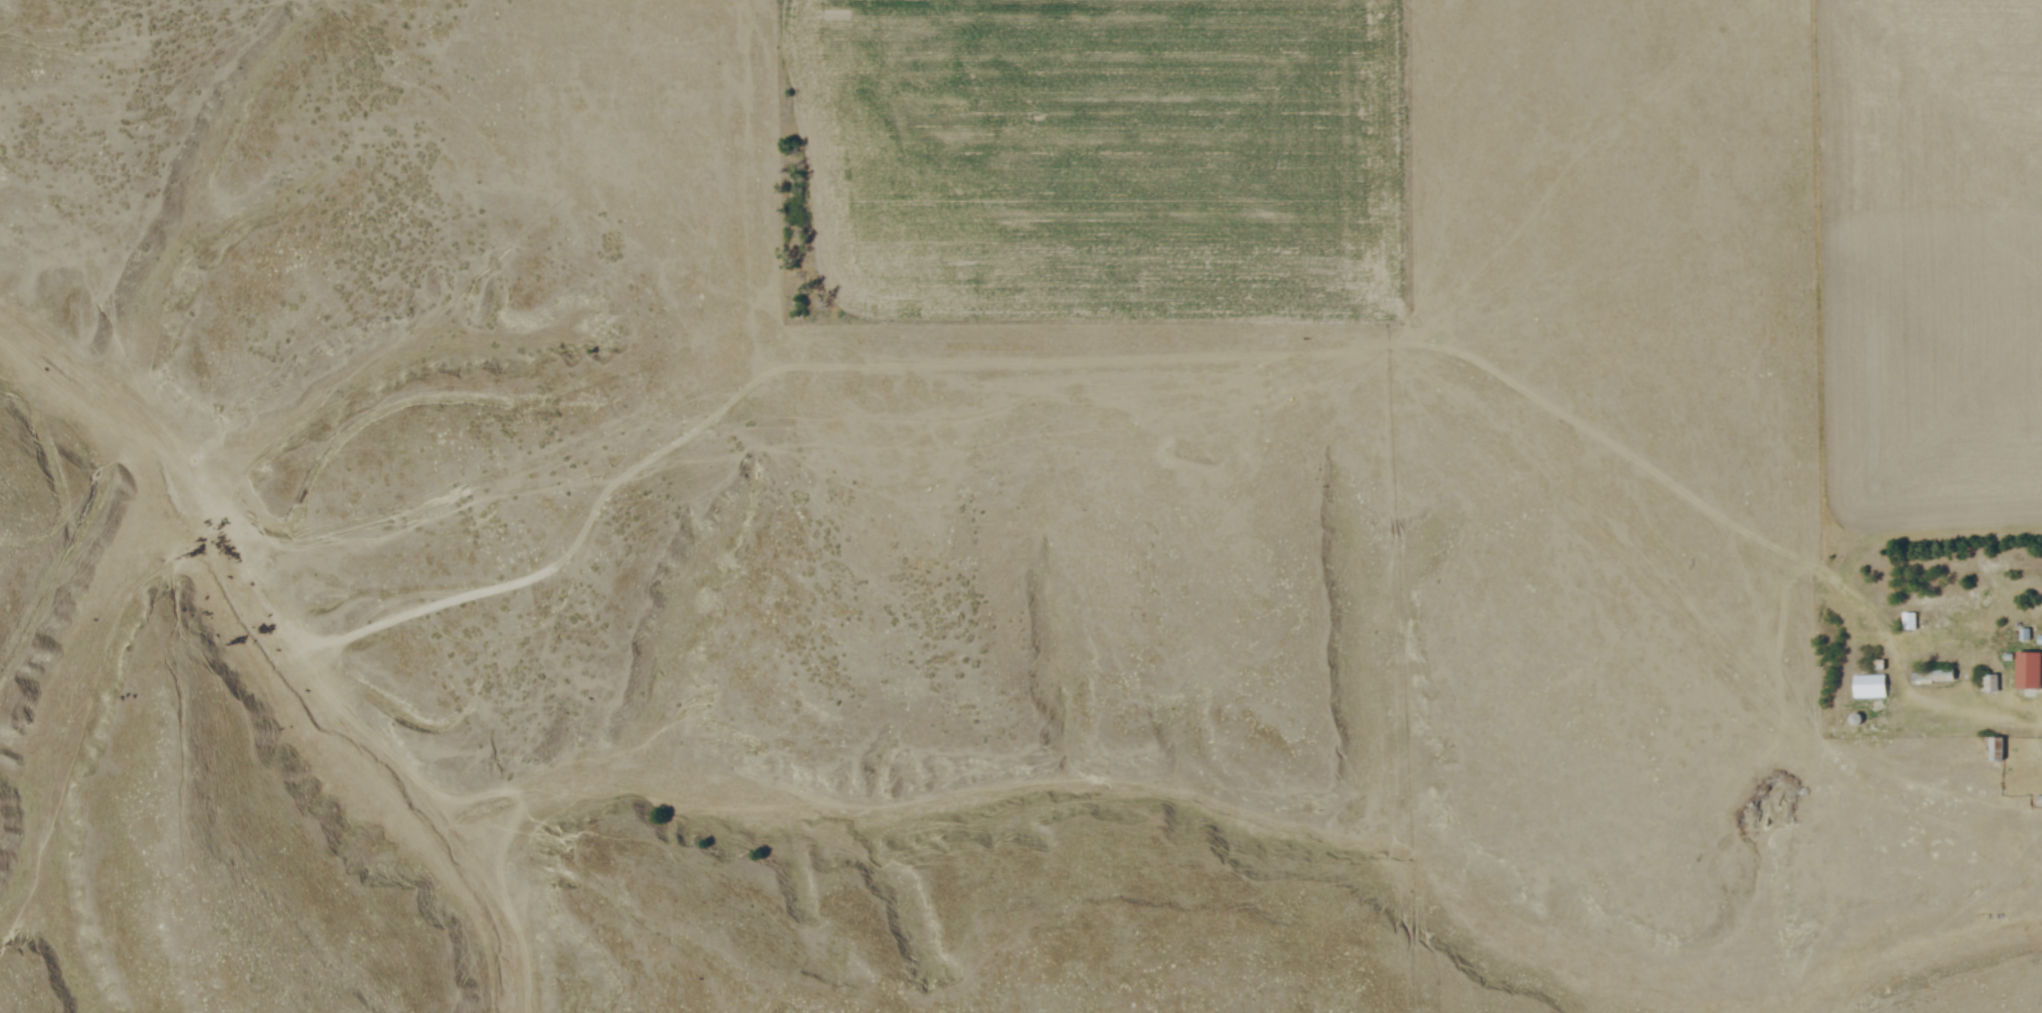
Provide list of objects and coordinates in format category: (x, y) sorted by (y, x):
building: (2029, 669)
building: (1933, 675)
building: (1869, 685)
building: (1996, 747)

